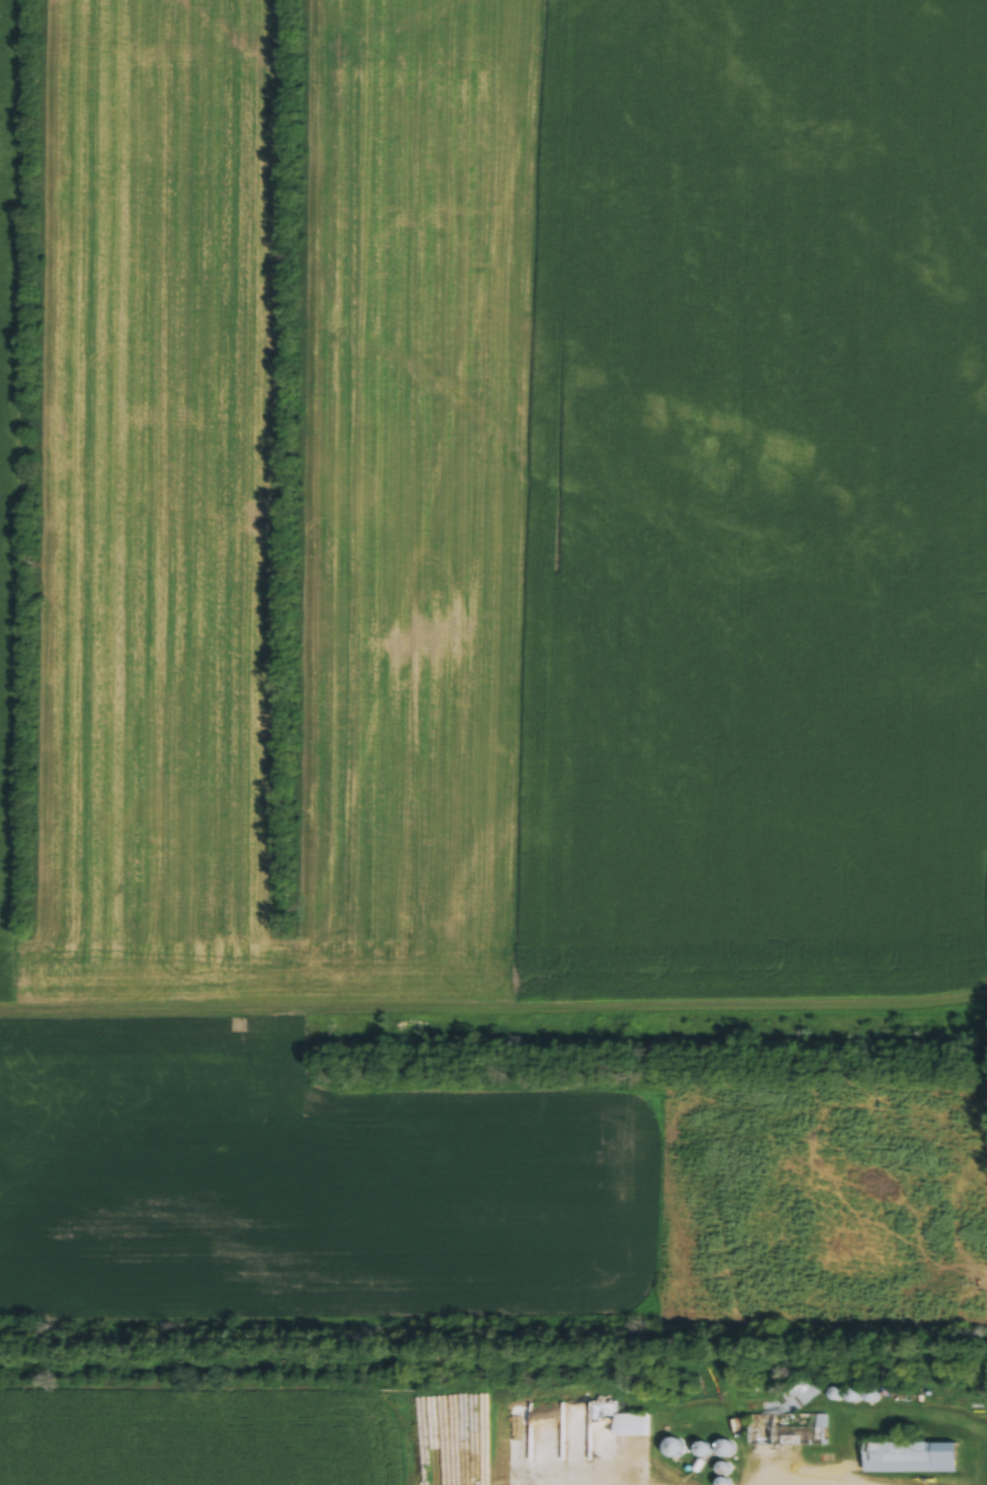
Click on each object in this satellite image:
building: (636, 1427)
building: (787, 1433)
building: (909, 1460)
road: (649, 1477)
road: (817, 1481)

